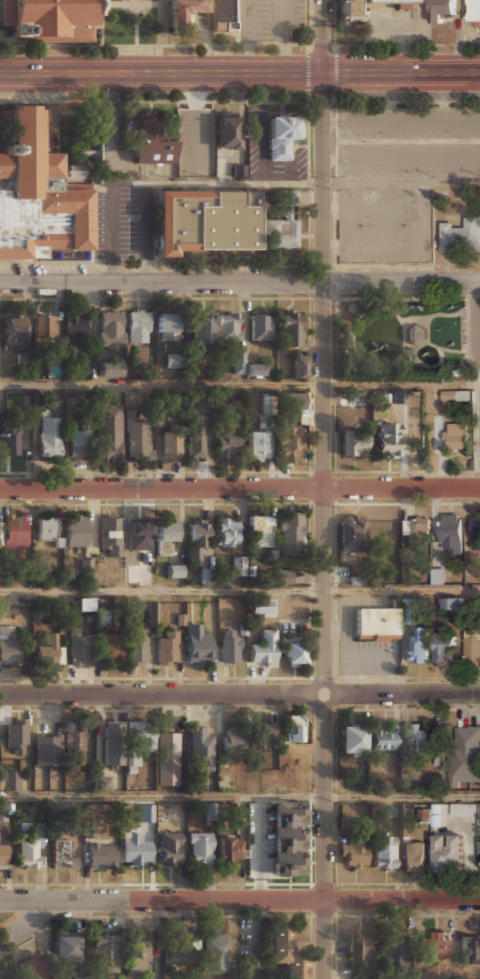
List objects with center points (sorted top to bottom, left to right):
building: (399, 2)
building: (442, 8)
building: (186, 9)
building: (352, 10)
building: (474, 11)
building: (223, 15)
building: (50, 19)
parking lot: (273, 20)
parking lot: (396, 24)
road: (210, 36)
road: (248, 36)
road: (287, 36)
road: (240, 73)
road: (402, 121)
road: (197, 127)
building: (228, 131)
building: (281, 134)
building: (149, 140)
parking lot: (414, 141)
parking lot: (196, 142)
building: (84, 149)
road: (402, 159)
building: (239, 170)
road: (110, 177)
road: (295, 182)
building: (38, 193)
building: (205, 220)
parking lot: (123, 224)
building: (281, 224)
parking lot: (384, 225)
road: (146, 232)
building: (461, 235)
road: (240, 283)
road: (478, 317)
building: (46, 326)
building: (139, 326)
building: (168, 326)
building: (75, 327)
building: (203, 327)
building: (229, 327)
building: (261, 328)
building: (290, 329)
building: (15, 330)
building: (112, 330)
building: (416, 333)
building: (85, 359)
building: (26, 360)
building: (175, 360)
building: (240, 361)
building: (300, 366)
building: (110, 369)
building: (257, 369)
road: (239, 385)
building: (399, 395)
building: (452, 398)
building: (55, 400)
building: (294, 400)
building: (268, 403)
building: (0, 421)
parking lot: (478, 429)
building: (109, 432)
building: (196, 435)
building: (455, 435)
building: (49, 438)
building: (137, 439)
building: (387, 439)
building: (10, 440)
building: (354, 442)
building: (79, 444)
building: (292, 444)
building: (171, 445)
building: (228, 446)
building: (259, 446)
road: (239, 488)
road: (324, 489)
building: (415, 529)
building: (258, 530)
building: (14, 531)
building: (48, 531)
building: (75, 531)
building: (227, 531)
building: (353, 532)
building: (451, 532)
building: (475, 532)
building: (139, 535)
building: (165, 535)
building: (291, 535)
building: (110, 536)
building: (197, 539)
building: (242, 566)
building: (174, 571)
building: (1, 574)
building: (206, 575)
building: (279, 575)
building: (437, 576)
road: (402, 590)
road: (162, 591)
building: (450, 603)
building: (84, 604)
building: (2, 605)
building: (259, 606)
building: (406, 612)
building: (150, 613)
building: (376, 623)
building: (472, 642)
building: (417, 645)
building: (8, 646)
building: (198, 646)
building: (112, 647)
building: (137, 647)
building: (167, 647)
building: (230, 647)
building: (80, 648)
building: (264, 648)
building: (443, 649)
building: (48, 651)
building: (294, 651)
road: (240, 695)
building: (296, 729)
building: (15, 736)
building: (74, 737)
building: (248, 737)
building: (351, 739)
building: (382, 739)
building: (418, 740)
building: (137, 741)
building: (113, 744)
building: (46, 748)
building: (199, 750)
building: (465, 756)
building: (168, 759)
building: (11, 779)
building: (0, 782)
building: (101, 783)
building: (479, 784)
road: (240, 797)
building: (463, 809)
building: (147, 813)
building: (24, 826)
building: (89, 831)
building: (286, 838)
building: (169, 848)
building: (135, 849)
building: (199, 849)
building: (228, 850)
building: (354, 851)
building: (383, 851)
building: (448, 852)
building: (63, 853)
building: (28, 854)
building: (101, 855)
building: (4, 856)
building: (413, 858)
road: (239, 901)
road: (11, 917)
parking lot: (34, 922)
road: (33, 937)
building: (431, 945)
park: (7, 946)
building: (65, 947)
building: (395, 948)
building: (285, 950)
building: (470, 950)
building: (360, 951)
building: (180, 953)
building: (215, 953)
building: (105, 956)
building: (139, 956)
building: (33, 966)
building: (79, 977)

